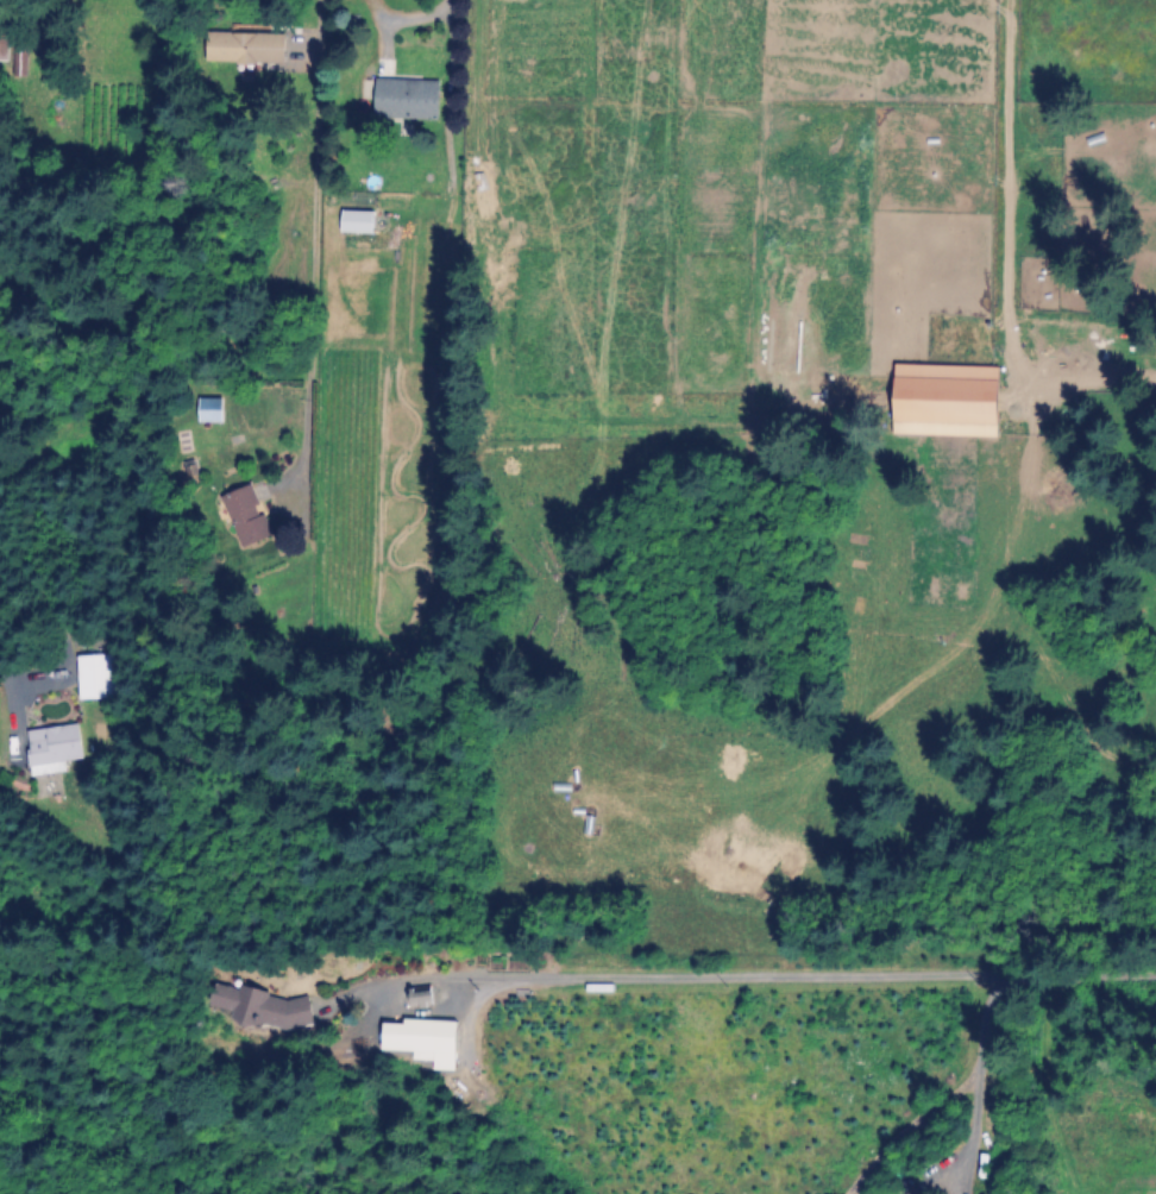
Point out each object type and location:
road: (419, 15)
building: (249, 46)
building: (12, 49)
building: (410, 98)
road: (306, 247)
road: (1000, 263)
building: (249, 515)
building: (100, 675)
road: (23, 677)
building: (56, 748)
road: (765, 968)
building: (271, 1006)
building: (415, 1035)
road: (978, 1081)
building: (979, 1165)

